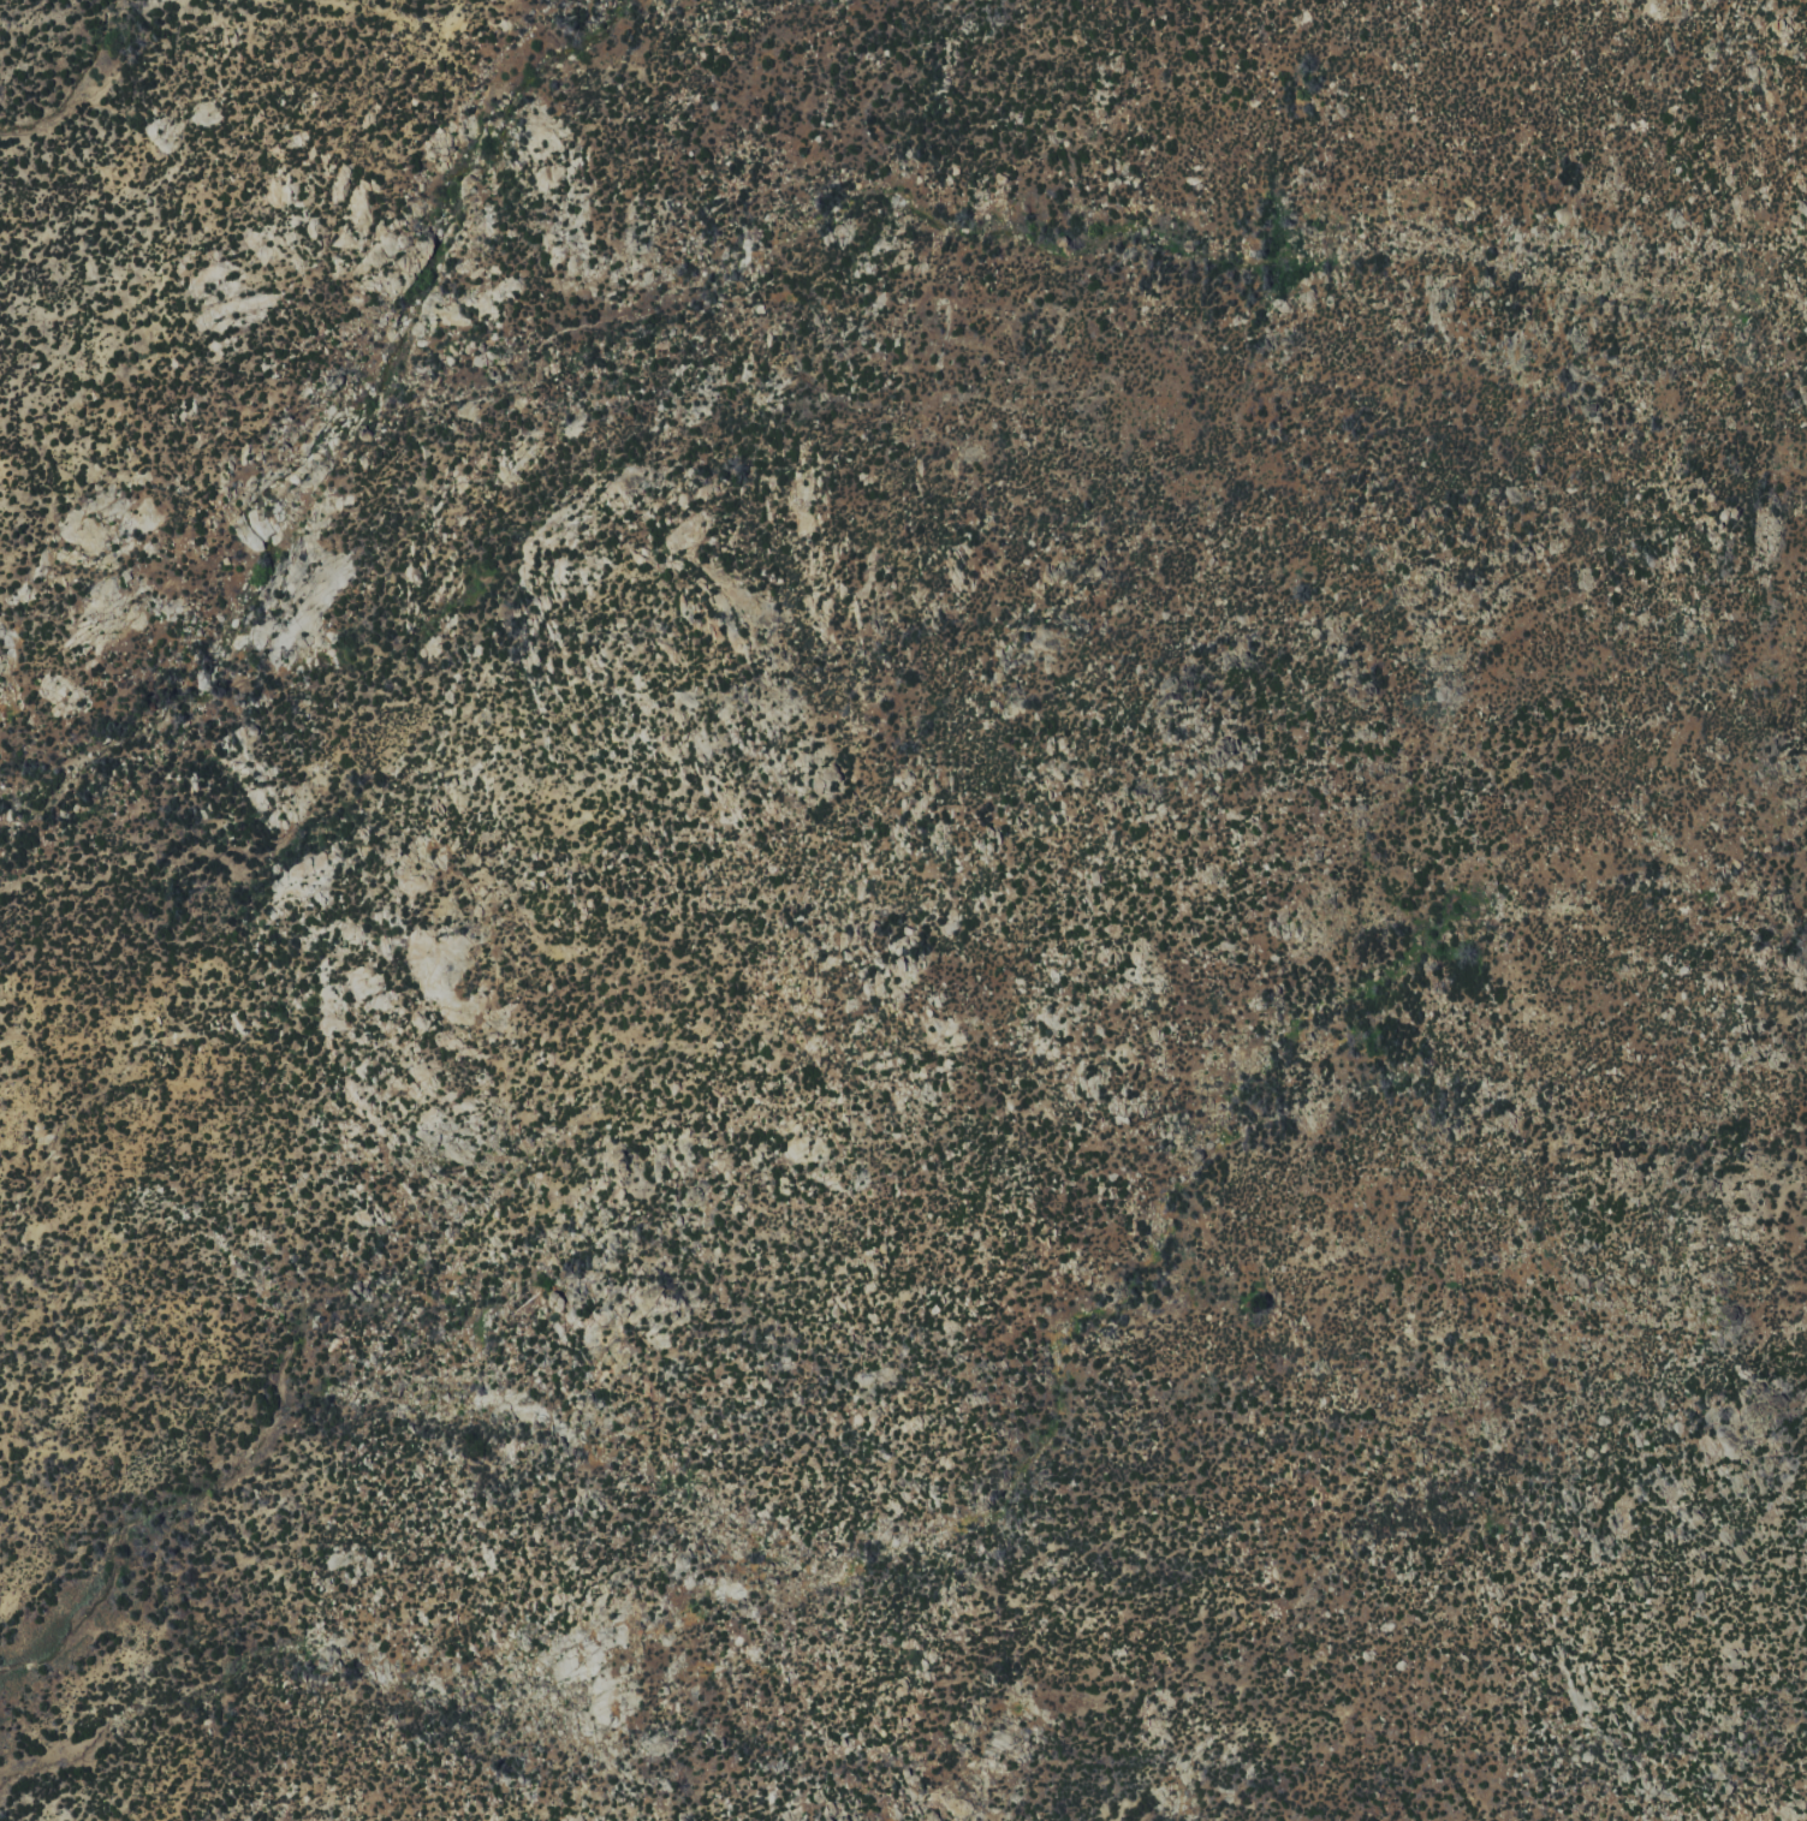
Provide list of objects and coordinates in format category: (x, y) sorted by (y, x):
road: (93, 11)
road: (391, 18)

